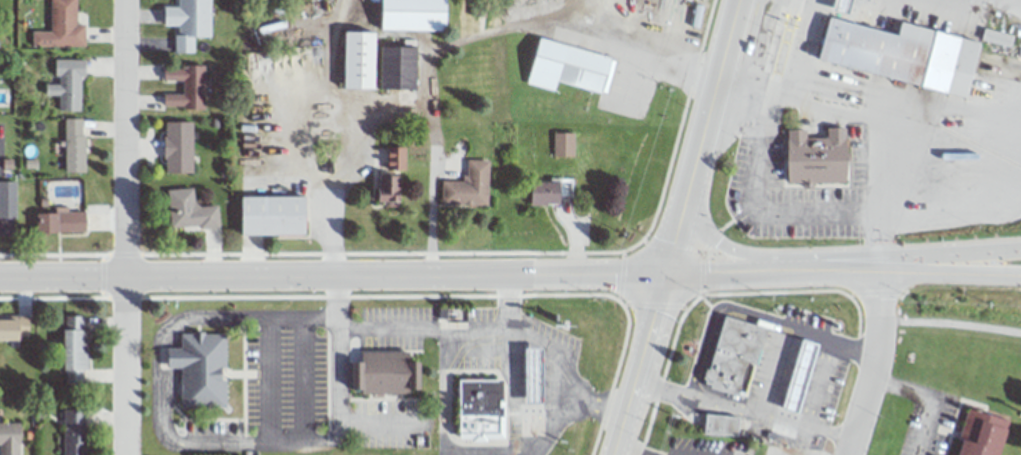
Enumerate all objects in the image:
building: (843, 6)
building: (414, 15)
building: (190, 17)
building: (61, 26)
road: (468, 38)
building: (906, 53)
building: (360, 60)
building: (568, 68)
building: (399, 69)
building: (67, 83)
building: (187, 86)
road: (714, 94)
road: (869, 113)
road: (295, 133)
road: (357, 135)
road: (122, 136)
building: (563, 144)
building: (180, 145)
building: (74, 146)
building: (817, 158)
building: (467, 186)
building: (390, 189)
road: (888, 190)
building: (546, 194)
building: (7, 200)
road: (693, 201)
building: (189, 210)
building: (275, 216)
building: (61, 221)
road: (725, 225)
road: (703, 227)
road: (677, 230)
road: (644, 241)
road: (710, 242)
road: (674, 249)
road: (978, 252)
road: (467, 253)
road: (622, 253)
road: (103, 254)
road: (125, 254)
road: (51, 255)
road: (769, 258)
road: (801, 268)
road: (978, 272)
road: (332, 273)
road: (702, 274)
road: (621, 275)
road: (767, 293)
road: (380, 294)
road: (654, 304)
road: (625, 305)
road: (731, 311)
road: (856, 312)
road: (664, 324)
building: (15, 327)
road: (438, 329)
building: (75, 349)
building: (735, 356)
road: (873, 360)
road: (638, 363)
road: (122, 364)
road: (826, 364)
building: (201, 369)
road: (562, 370)
building: (391, 371)
road: (664, 371)
road: (774, 371)
building: (535, 375)
building: (802, 375)
gas station: (802, 375)
road: (615, 376)
road: (339, 377)
parking lot: (699, 379)
parking lot: (769, 386)
road: (931, 397)
road: (984, 402)
building: (482, 409)
road: (158, 410)
road: (742, 411)
parking lot: (924, 415)
building: (721, 424)
building: (75, 431)
building: (984, 433)
building: (10, 438)
parking lot: (702, 445)
parking lot: (798, 449)
road: (618, 453)
road: (457, 454)

